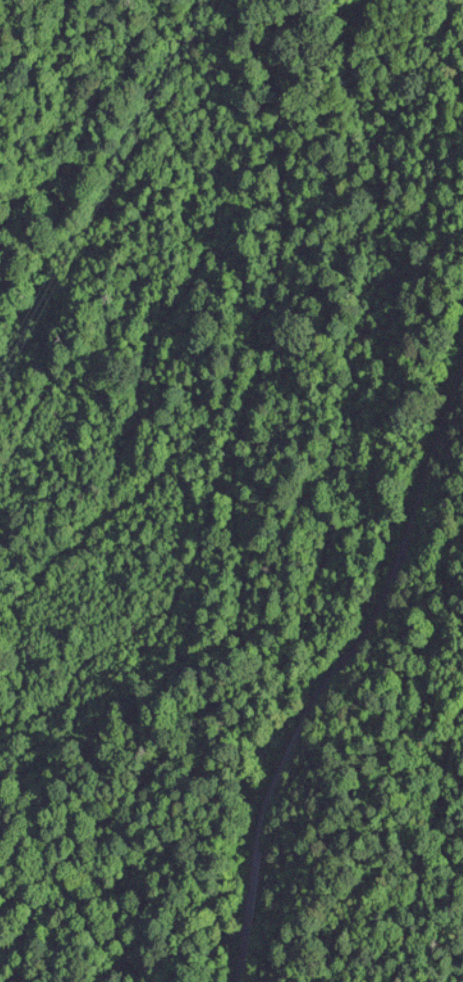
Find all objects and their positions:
road: (337, 665)

